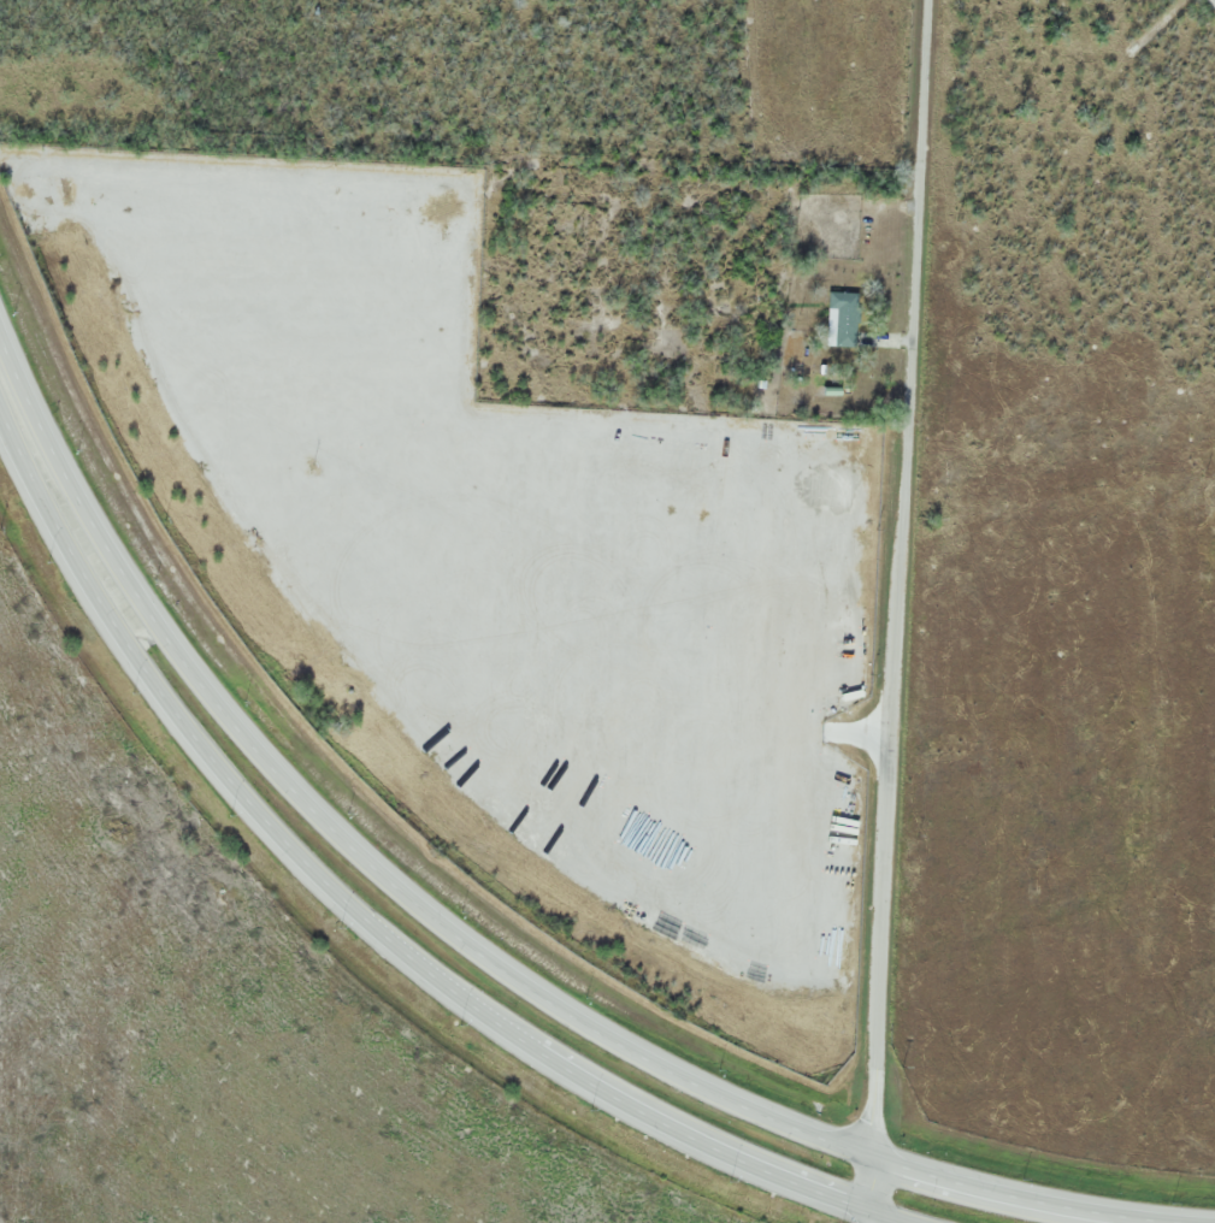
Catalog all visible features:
building: (842, 318)
road: (898, 604)
road: (368, 921)
road: (460, 943)
road: (873, 1217)

